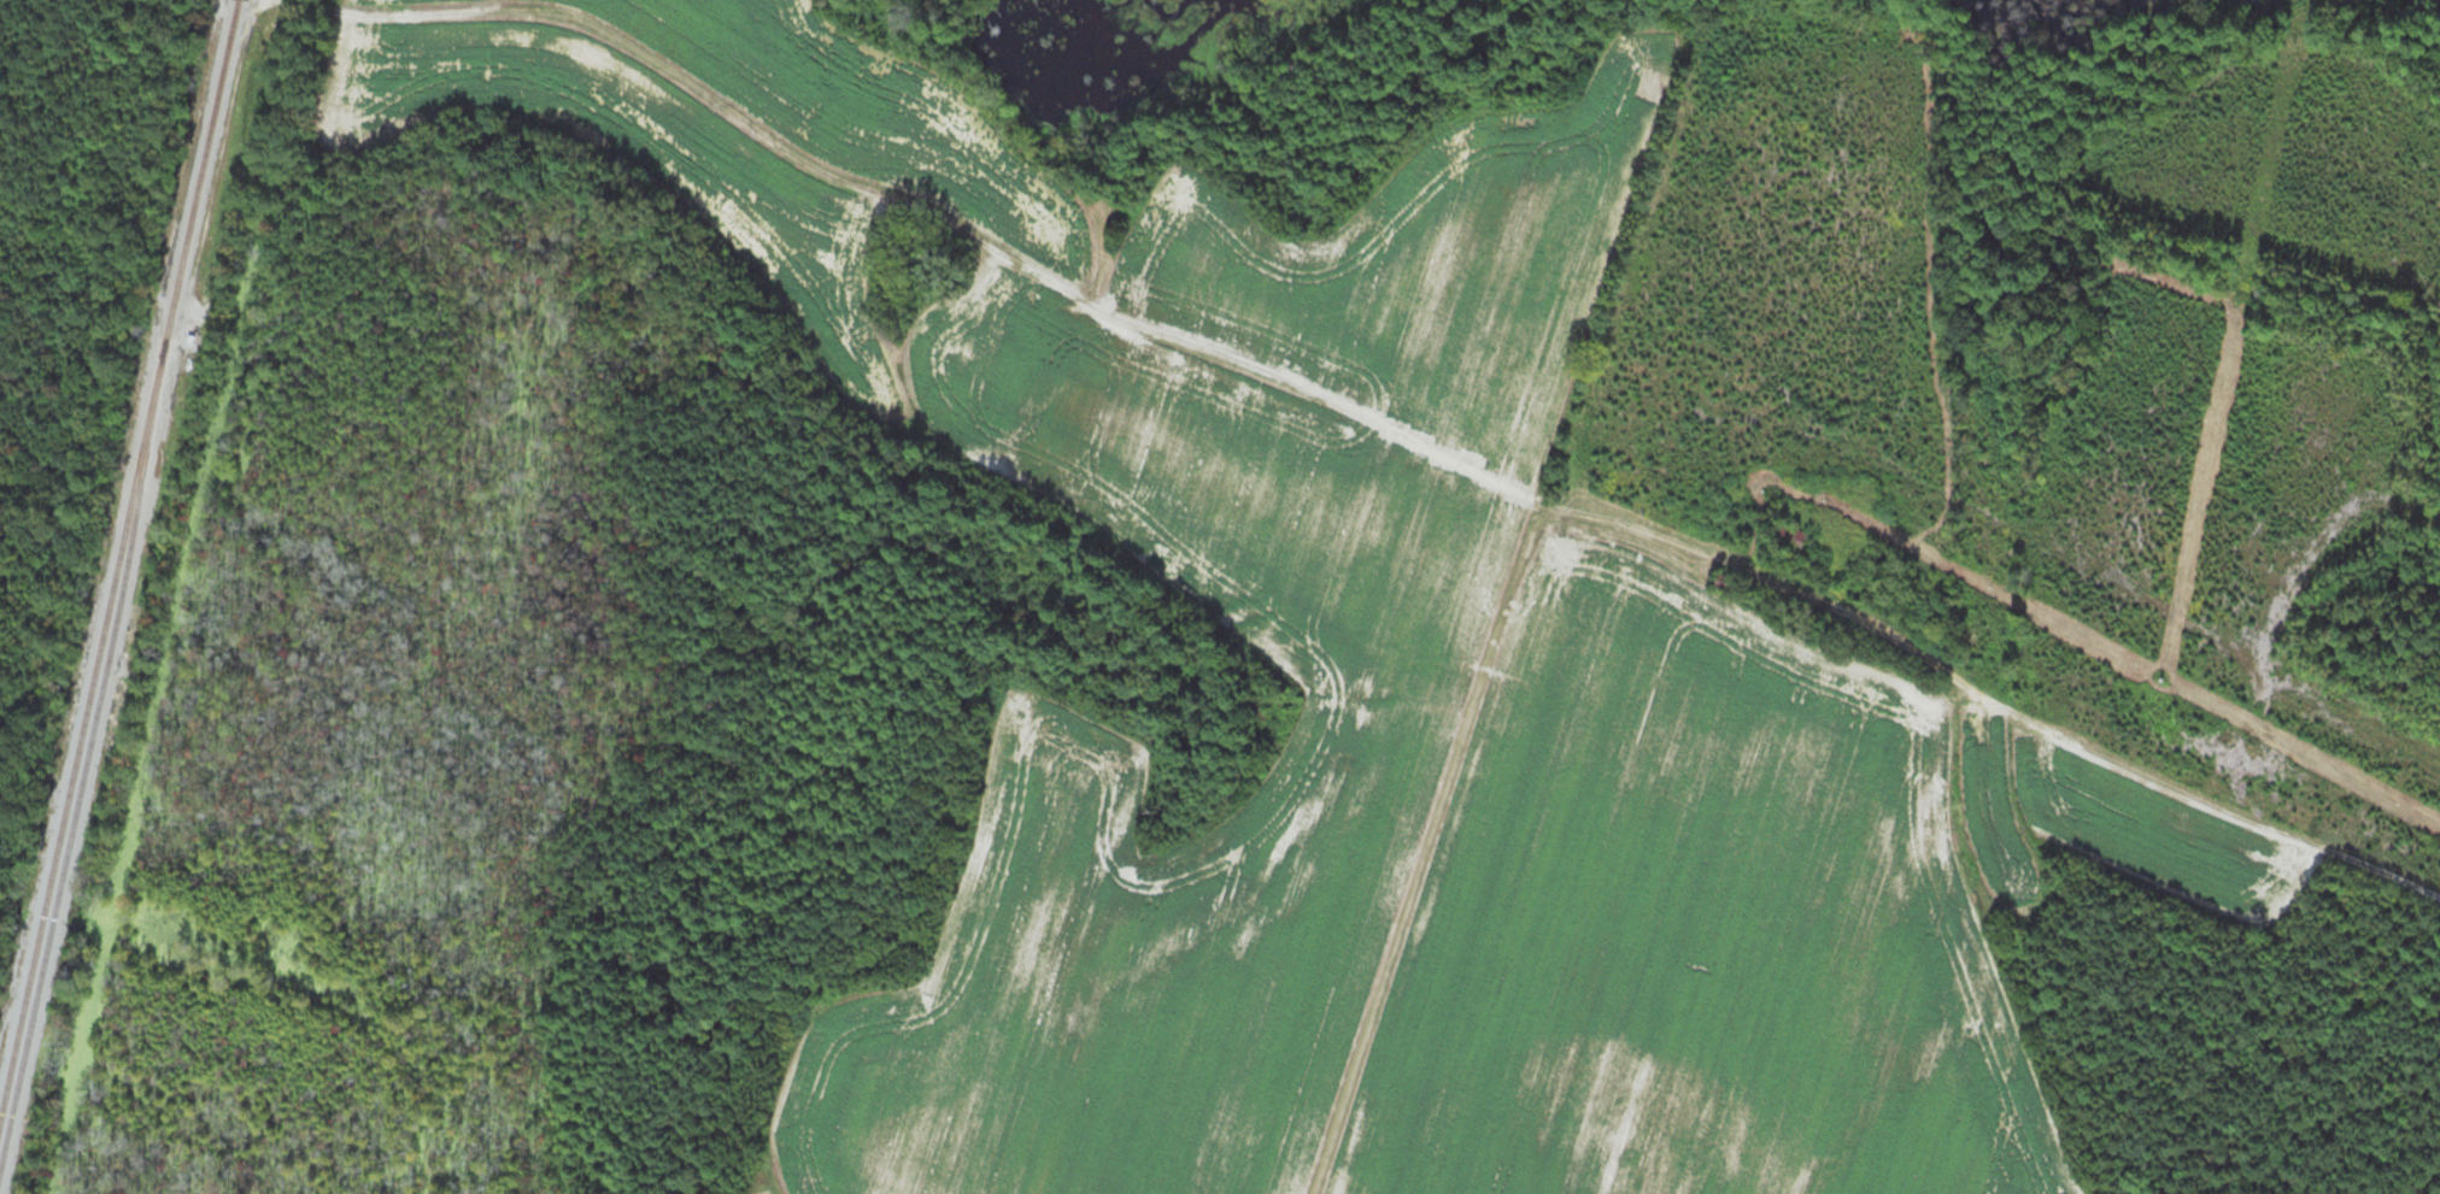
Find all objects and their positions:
railway: (203, 169)
road: (1344, 463)
building: (1789, 536)
building: (1724, 580)
railway: (82, 730)
railway: (88, 758)
road: (1418, 871)

